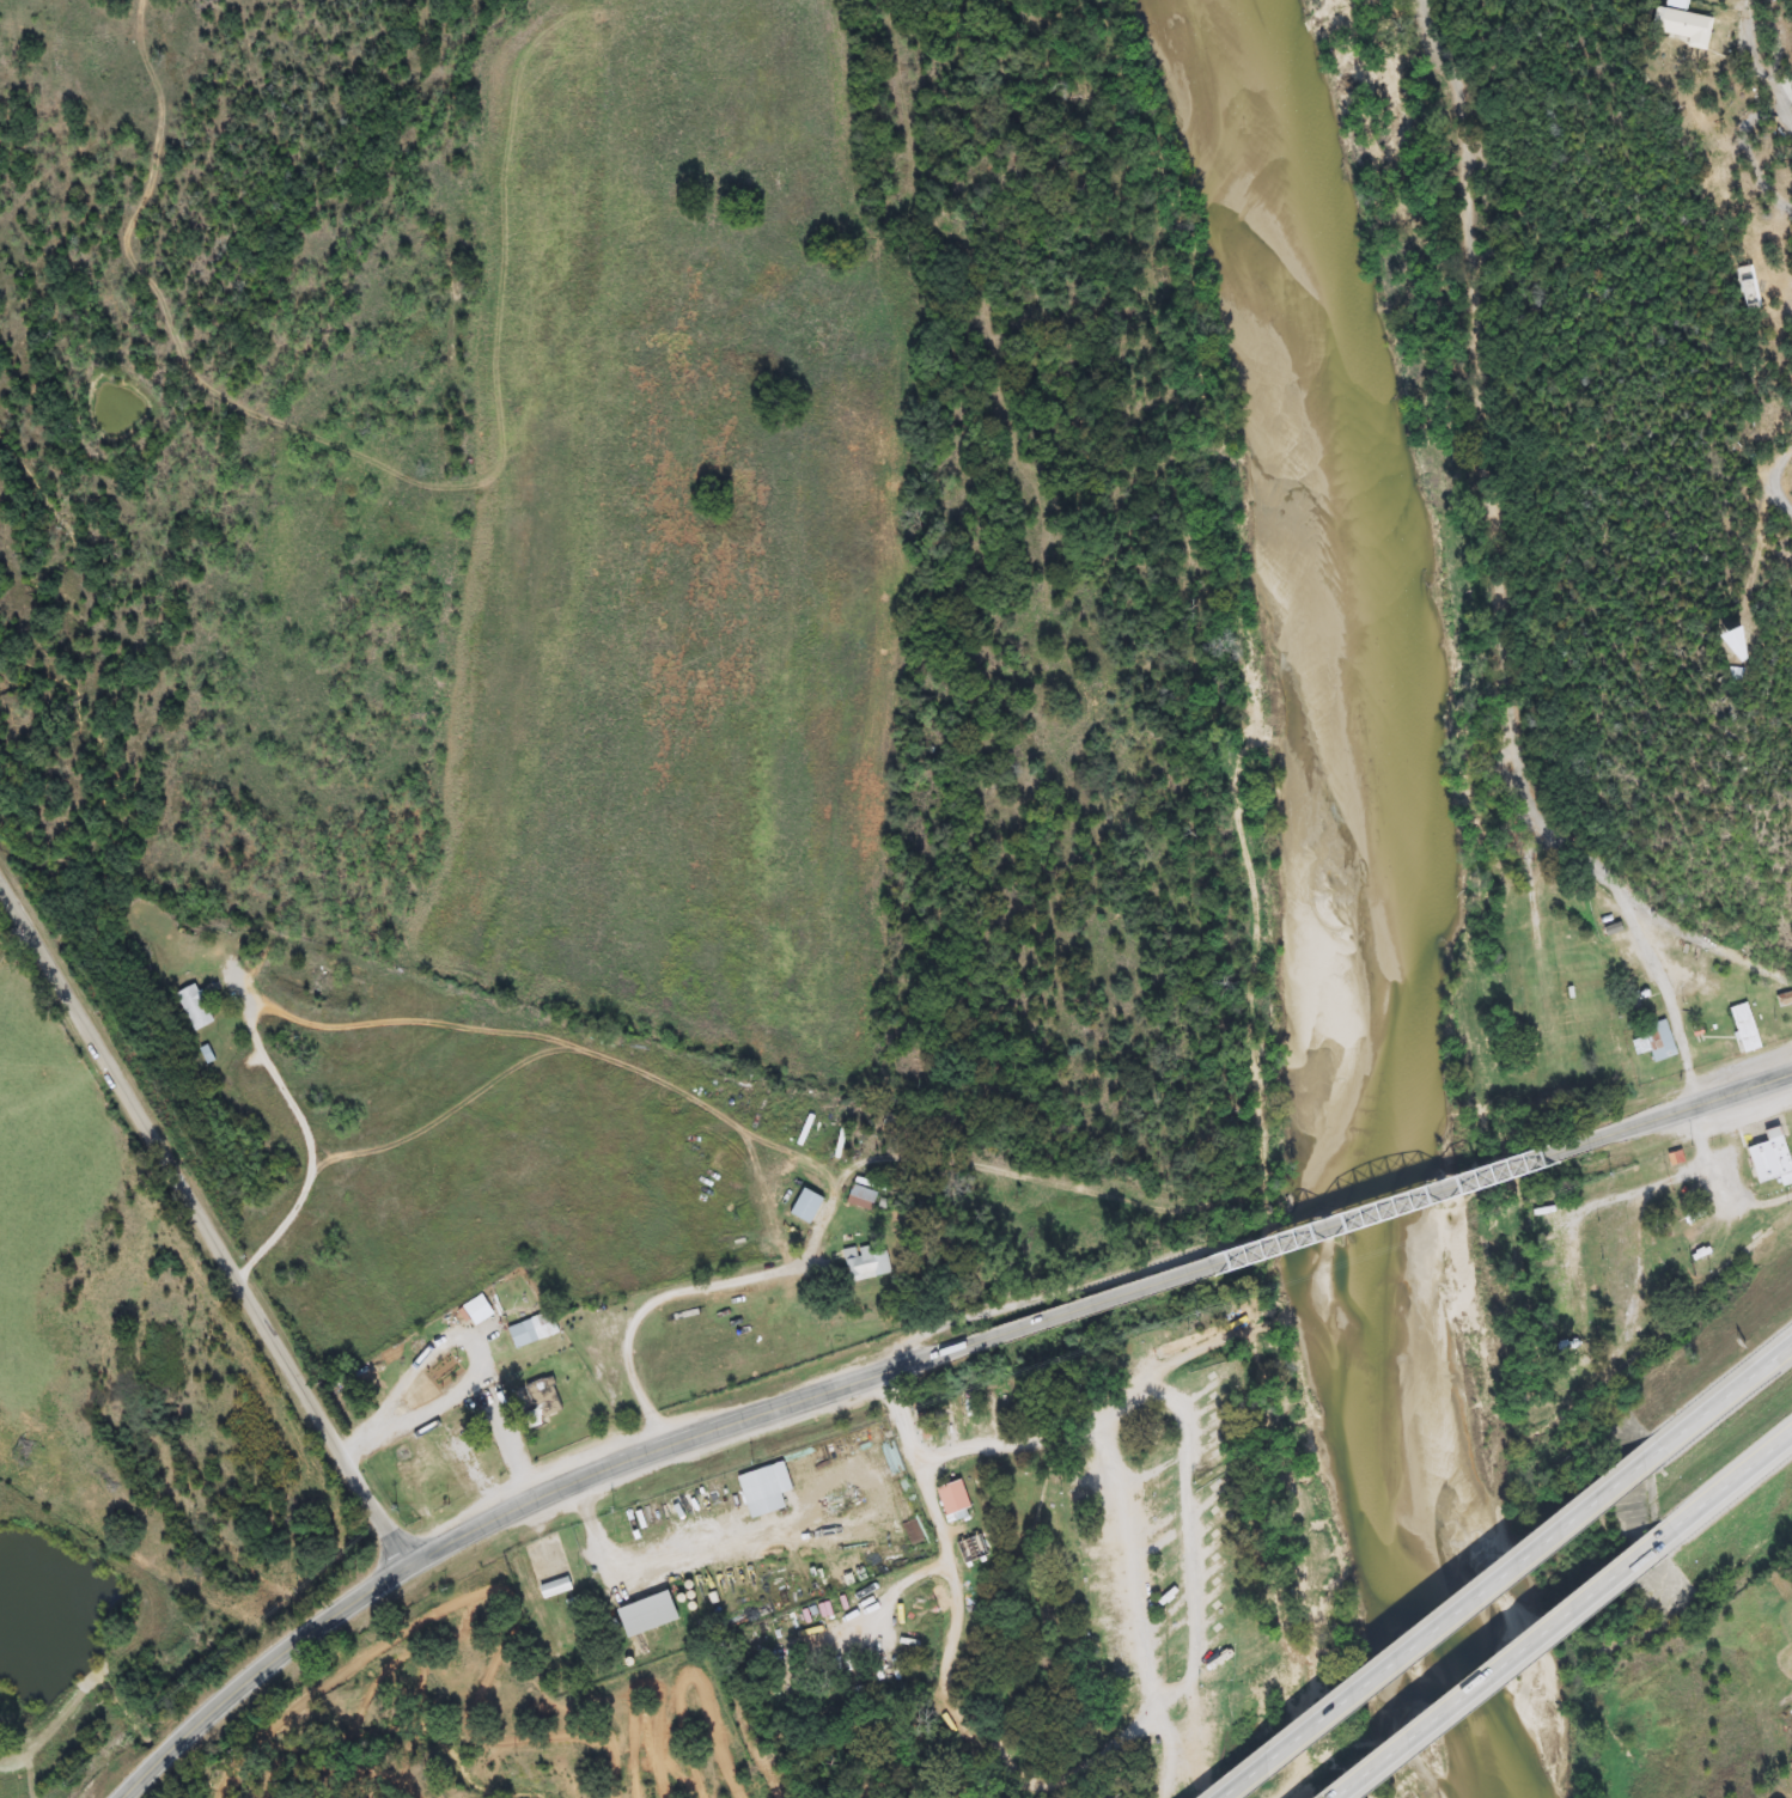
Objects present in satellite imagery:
building: (1676, 24)
road: (1733, 141)
road: (1760, 467)
road: (1505, 560)
building: (1590, 891)
river: (1382, 912)
building: (1617, 950)
road: (1668, 1000)
building: (1638, 1004)
building: (195, 1008)
building: (1741, 1030)
building: (1654, 1041)
road: (1662, 1116)
road: (735, 1126)
building: (803, 1130)
building: (836, 1146)
road: (312, 1158)
building: (1762, 1158)
building: (859, 1197)
building: (801, 1206)
road: (203, 1217)
road: (1252, 1252)
building: (865, 1263)
building: (470, 1305)
building: (530, 1330)
road: (474, 1382)
building: (535, 1402)
road: (1678, 1427)
road: (1695, 1503)
road: (1190, 1510)
road: (520, 1516)
road: (1388, 1656)
road: (1461, 1687)

